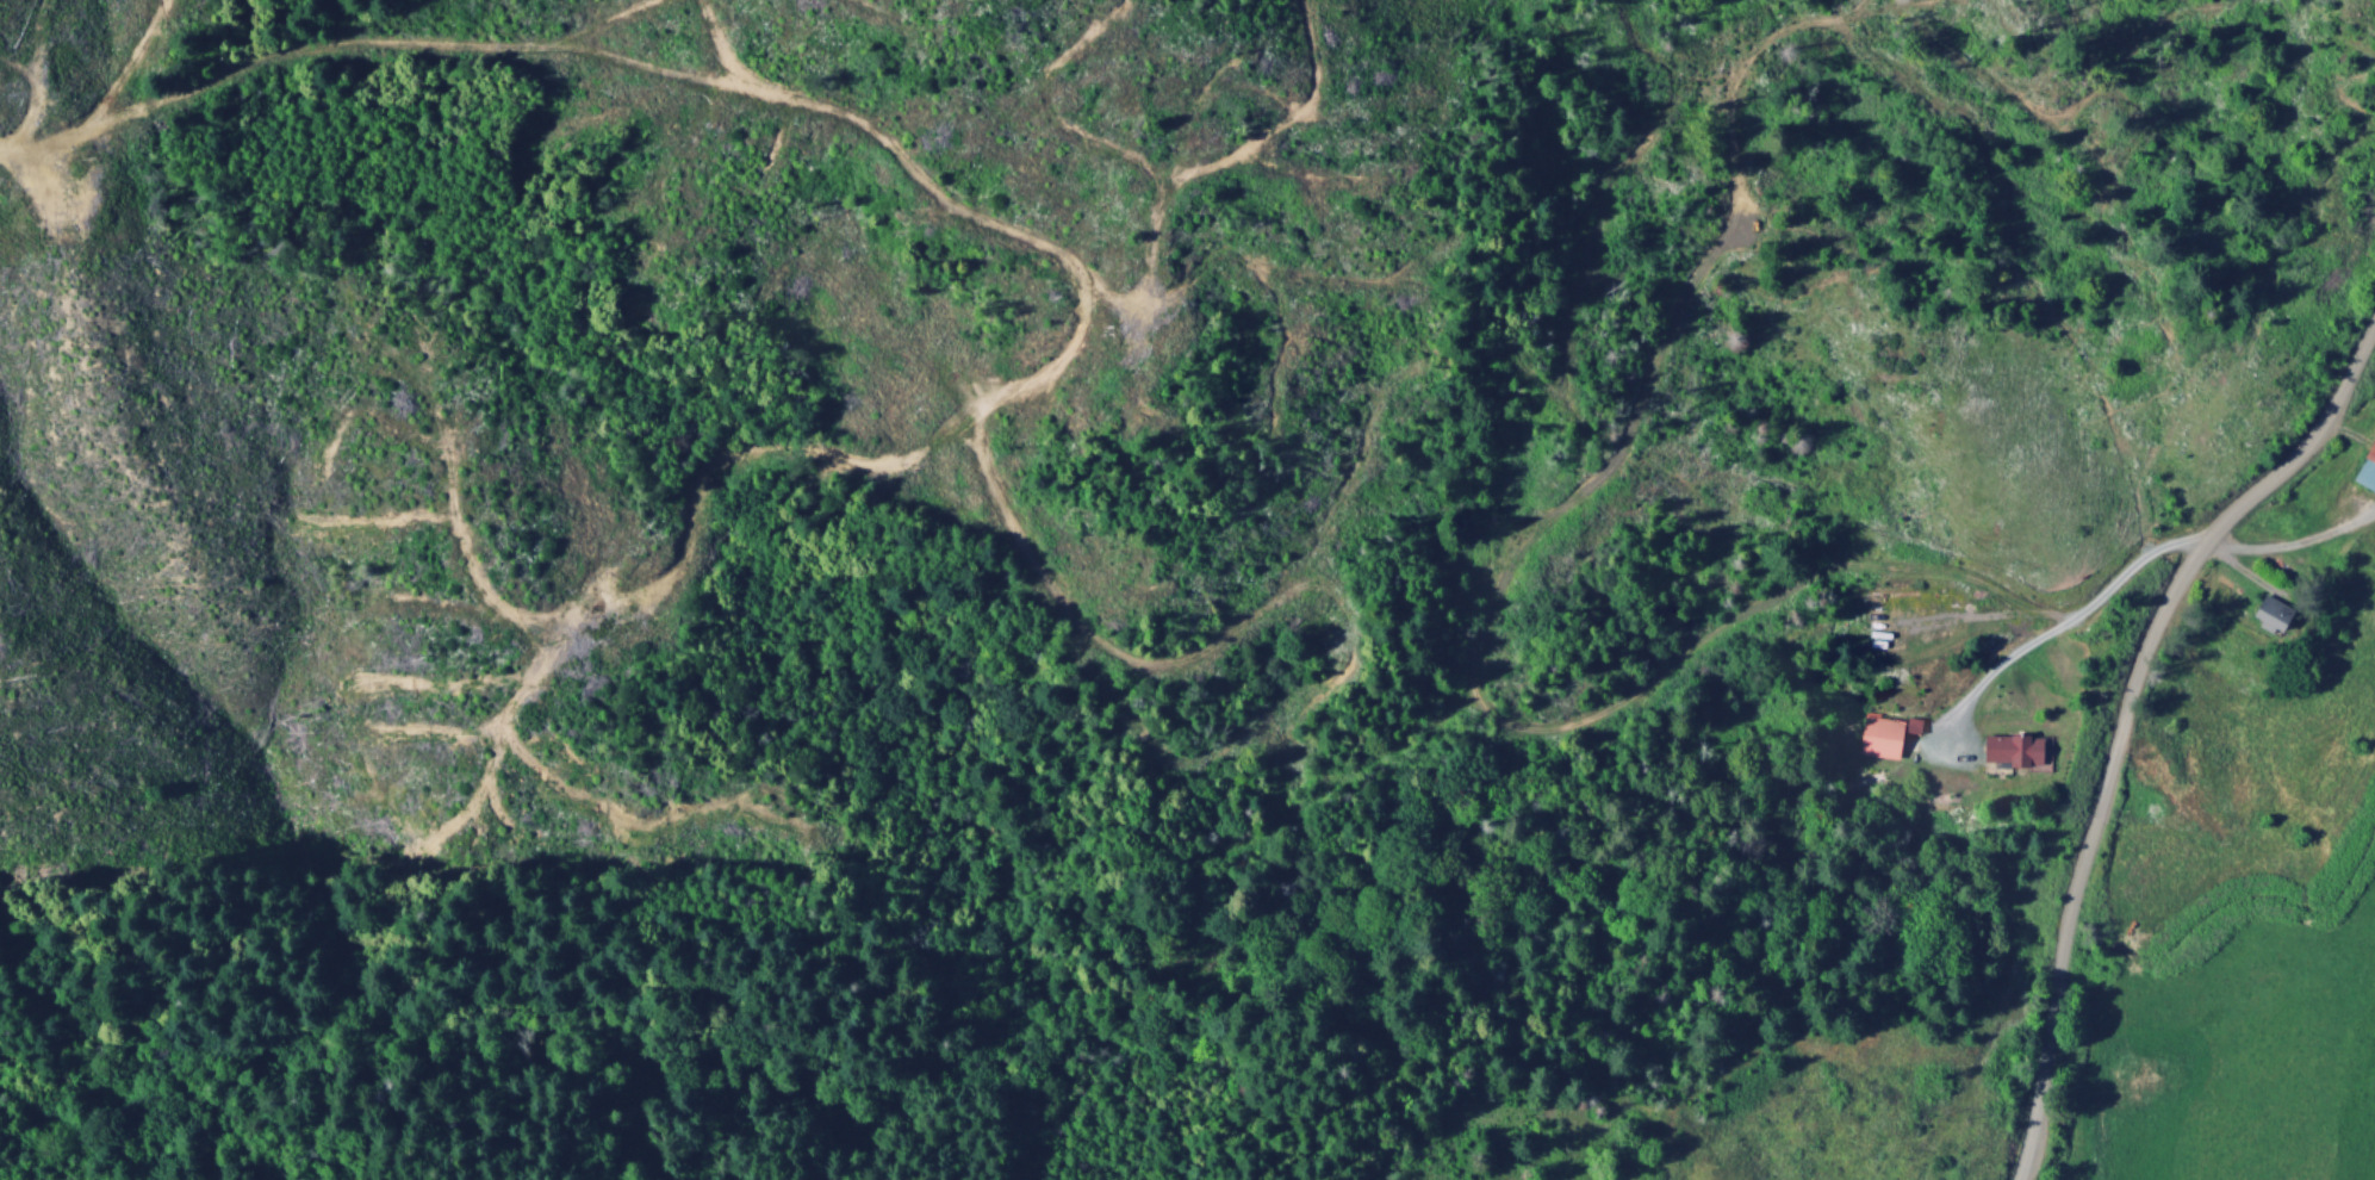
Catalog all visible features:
building: (2364, 468)
building: (2264, 616)
road: (2058, 626)
road: (2124, 715)
building: (1886, 738)
building: (2009, 751)

